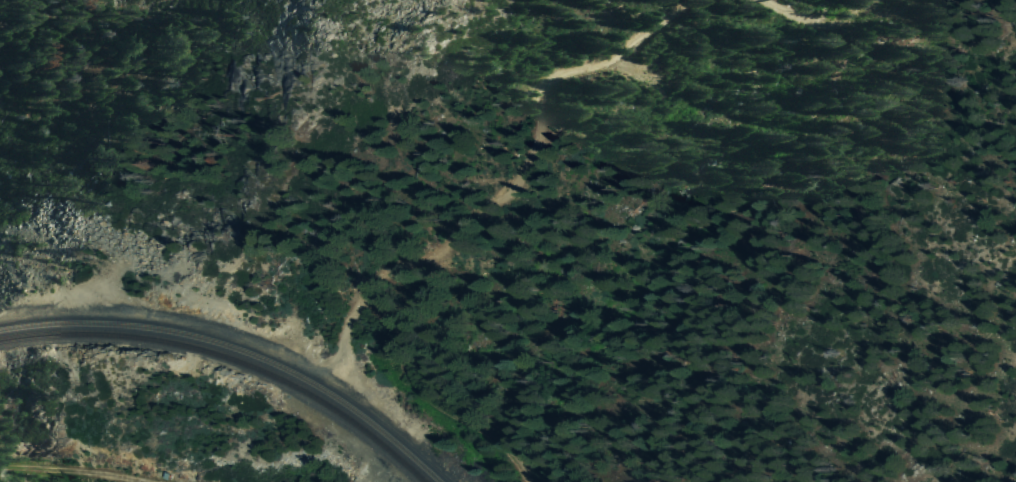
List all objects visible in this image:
road: (813, 25)
road: (517, 180)
railway: (237, 348)
railway: (228, 357)
road: (432, 403)

